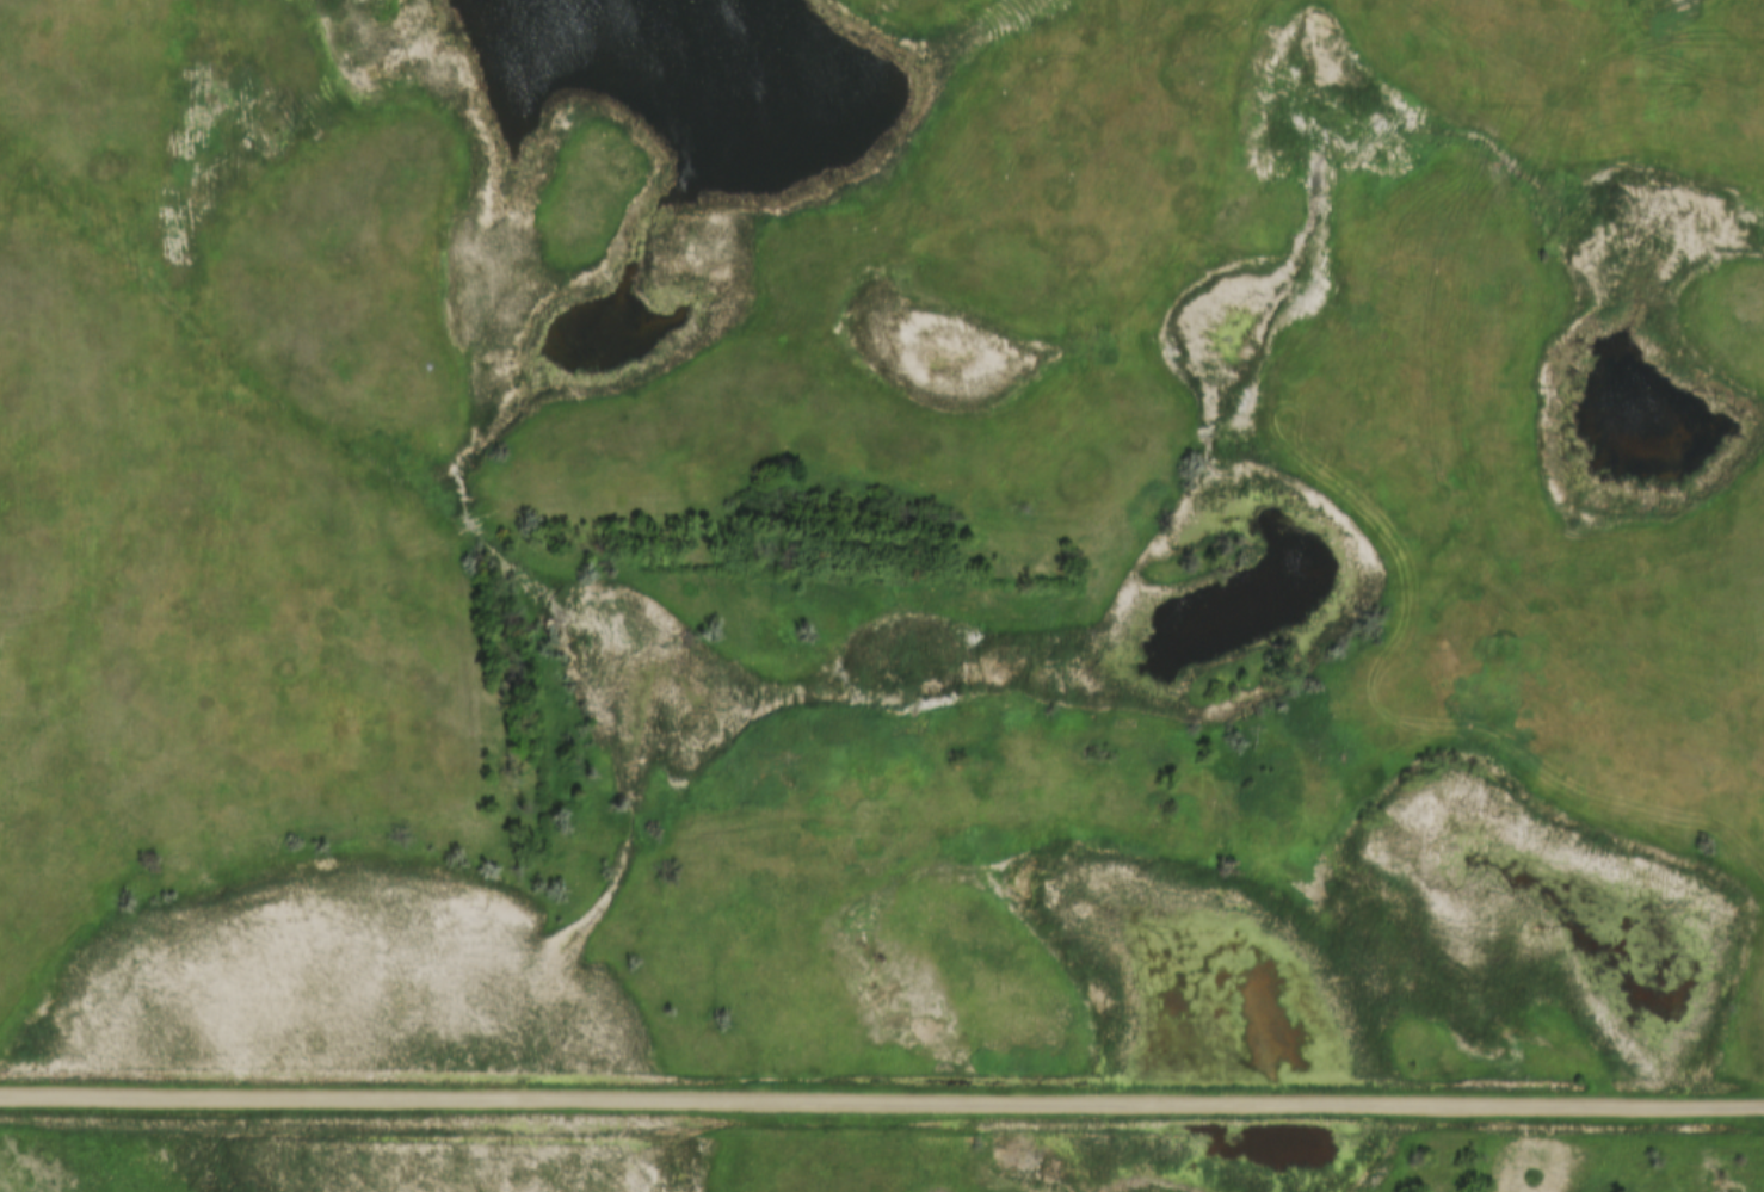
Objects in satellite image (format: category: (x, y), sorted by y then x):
road: (881, 1105)

